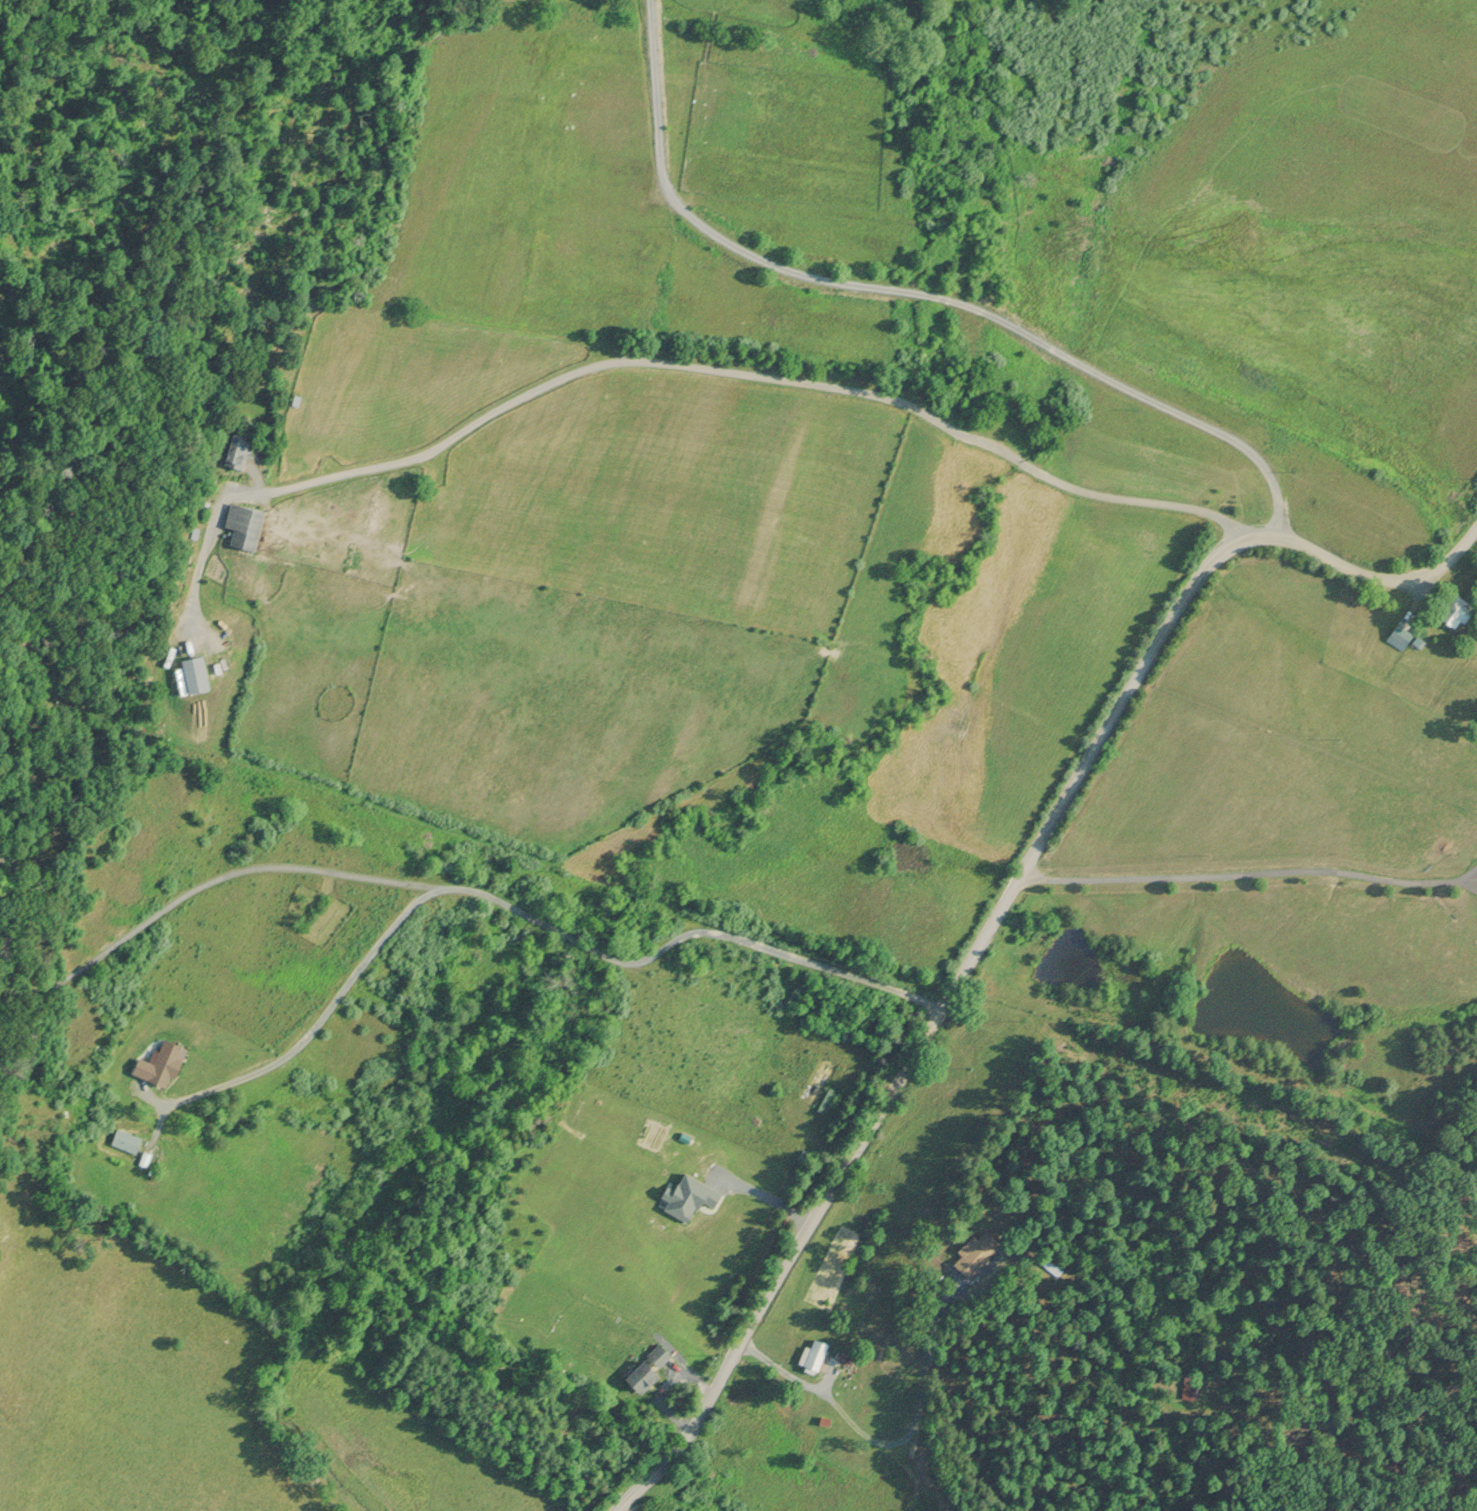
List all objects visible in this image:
road: (914, 289)
road: (760, 373)
building: (239, 450)
building: (246, 523)
building: (1457, 608)
building: (1400, 634)
building: (197, 673)
road: (1256, 865)
road: (403, 880)
road: (998, 917)
road: (322, 1020)
building: (163, 1060)
building: (126, 1138)
road: (768, 1199)
building: (977, 1249)
building: (813, 1353)
building: (650, 1364)
road: (893, 1443)

